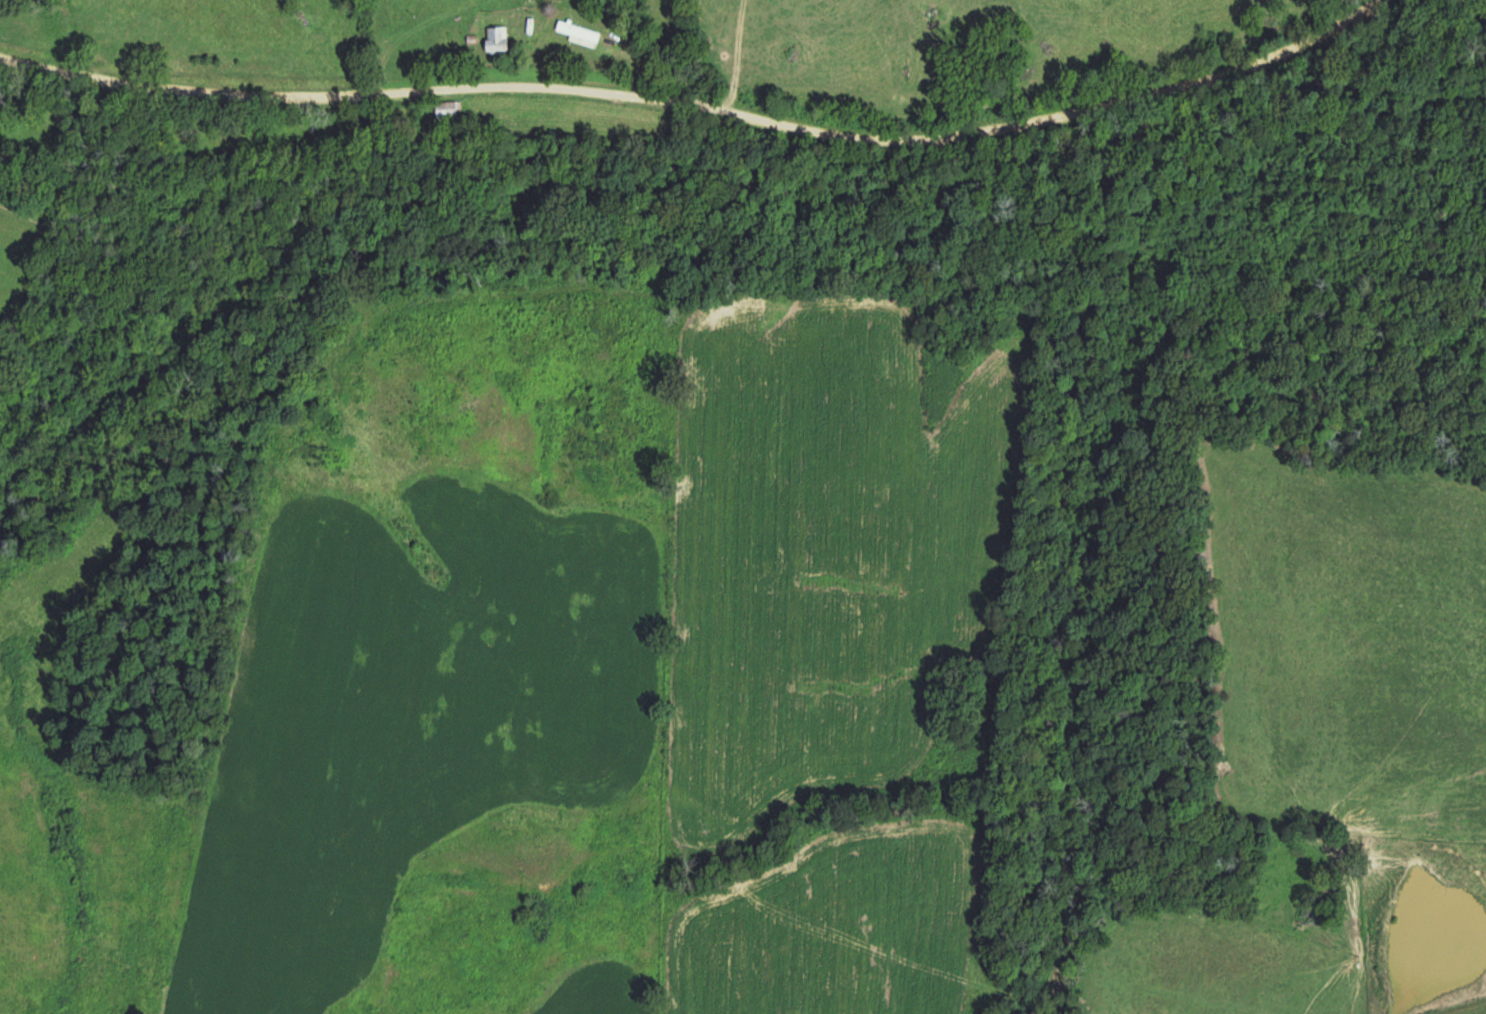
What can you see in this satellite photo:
building: (580, 32)
building: (501, 40)
road: (700, 105)
building: (447, 108)

